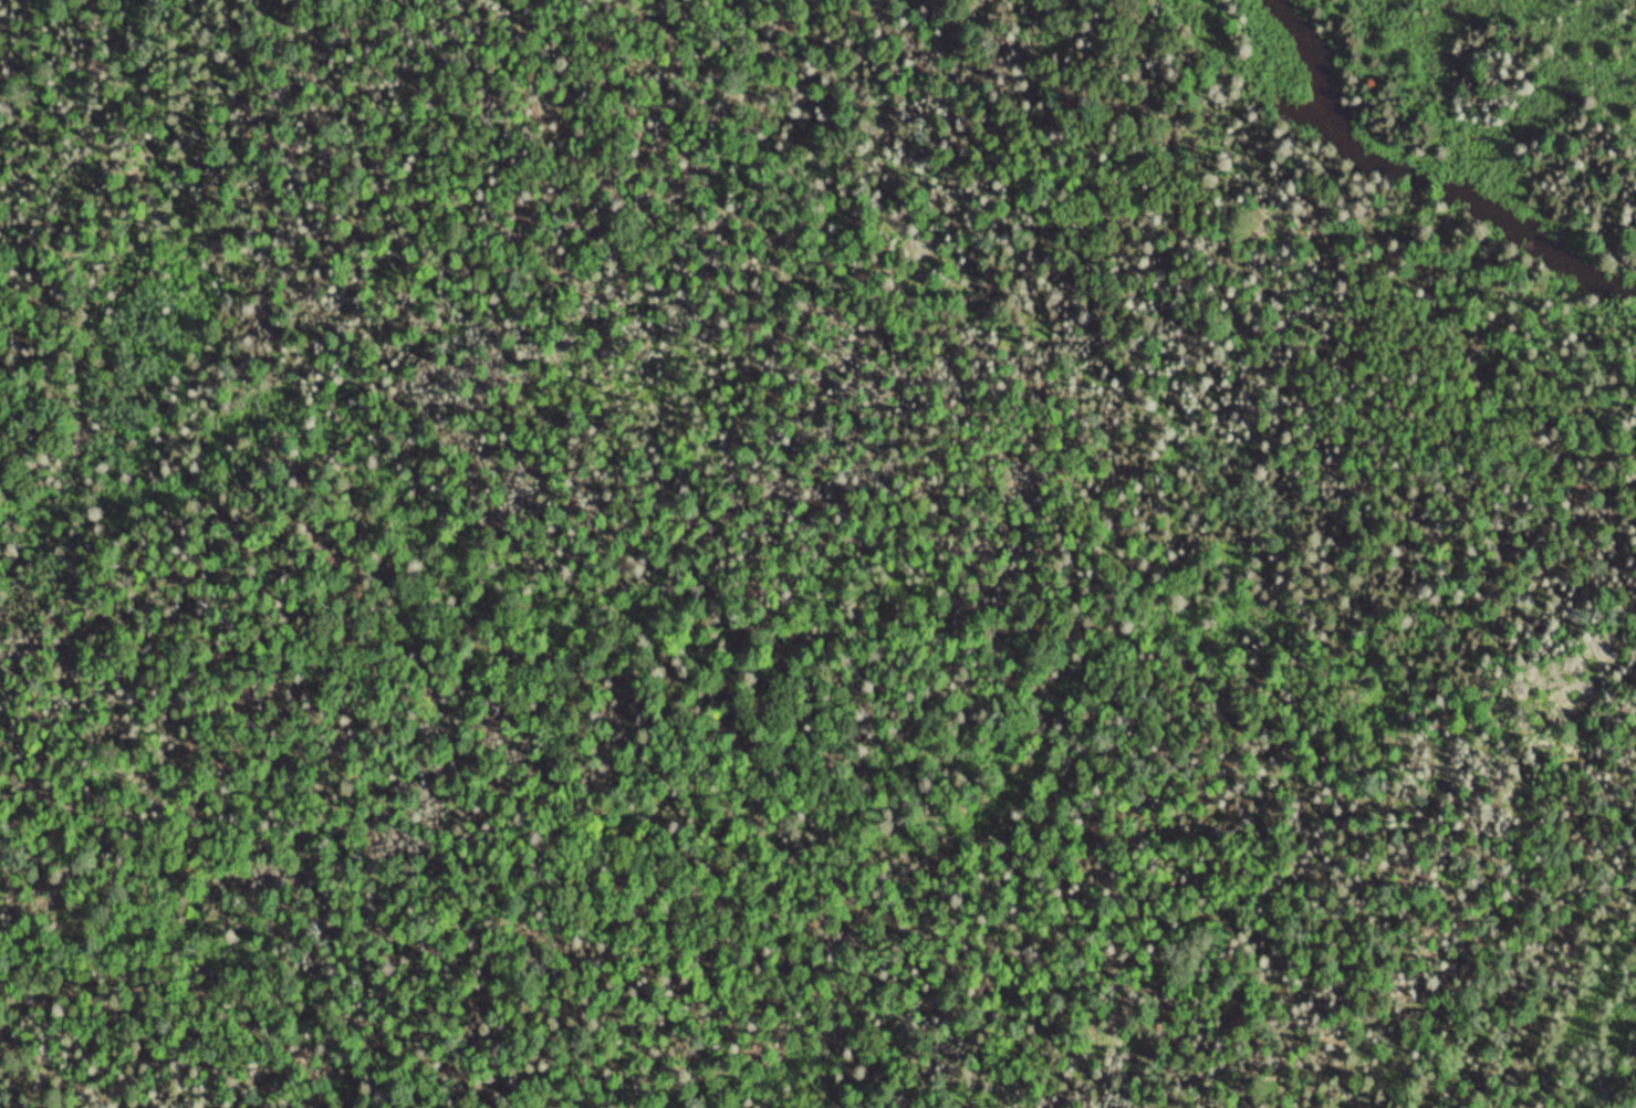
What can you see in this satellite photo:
river: (1424, 175)

